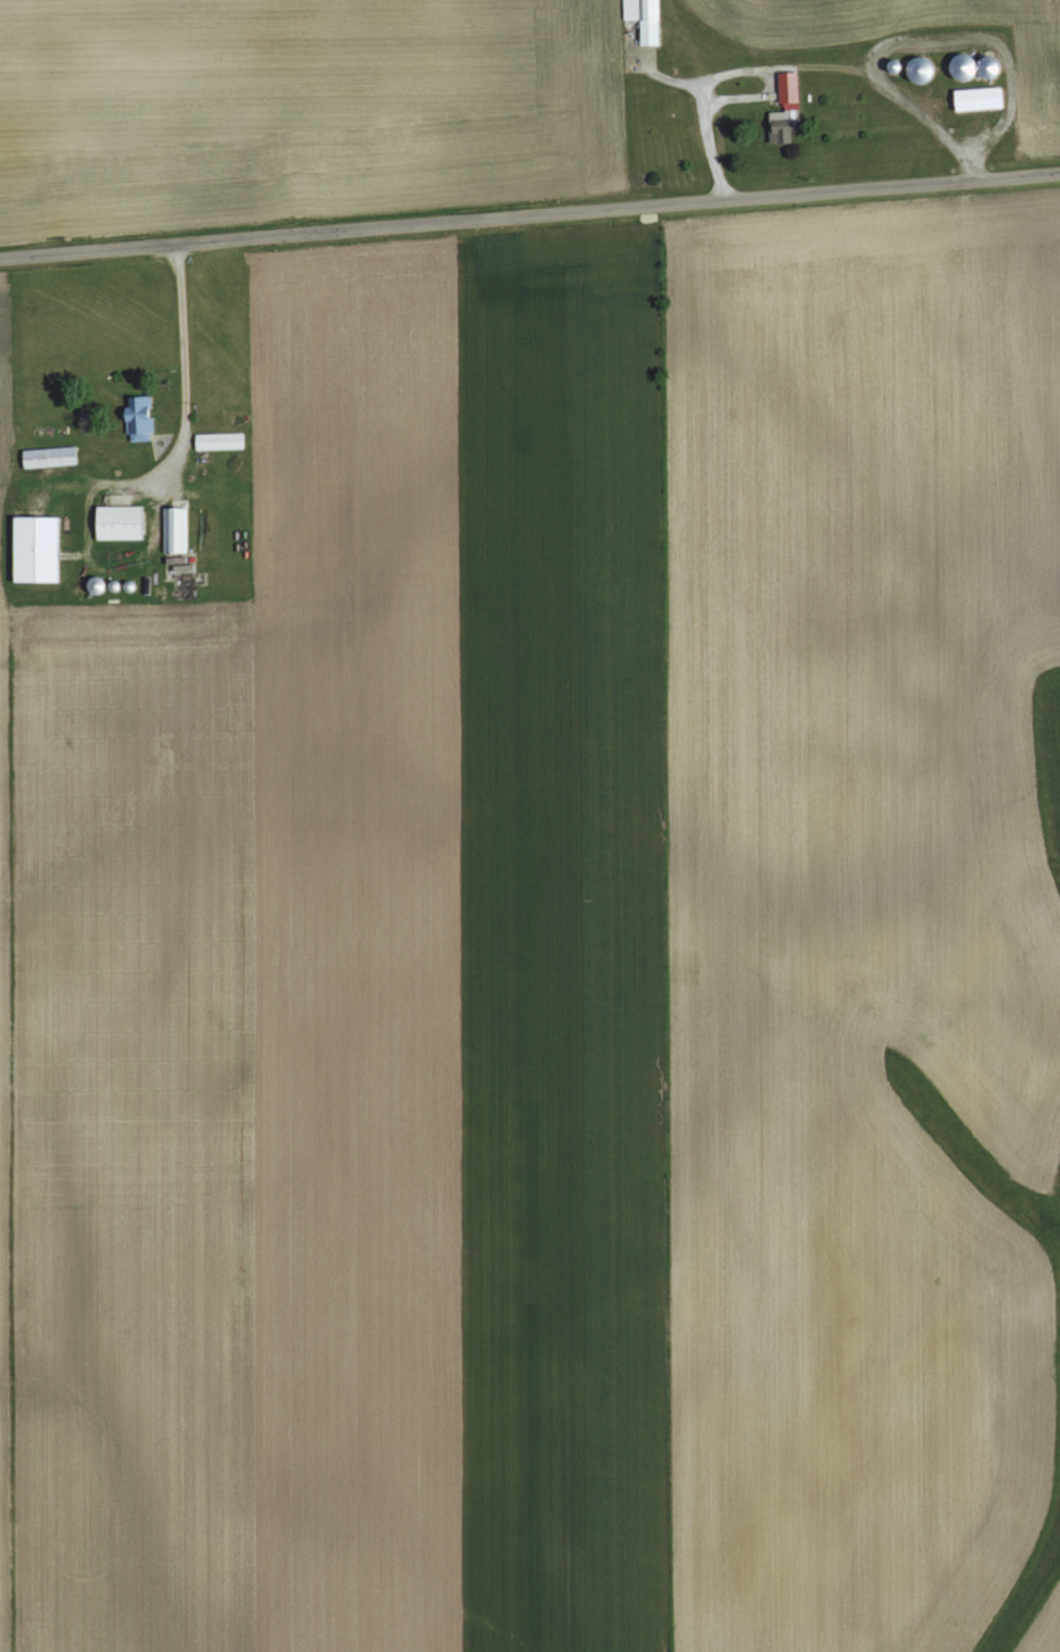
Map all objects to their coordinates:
building: (644, 18)
building: (787, 90)
building: (977, 99)
road: (529, 215)
road: (184, 381)
building: (138, 418)
building: (219, 443)
building: (48, 458)
building: (117, 523)
building: (174, 531)
building: (35, 550)

